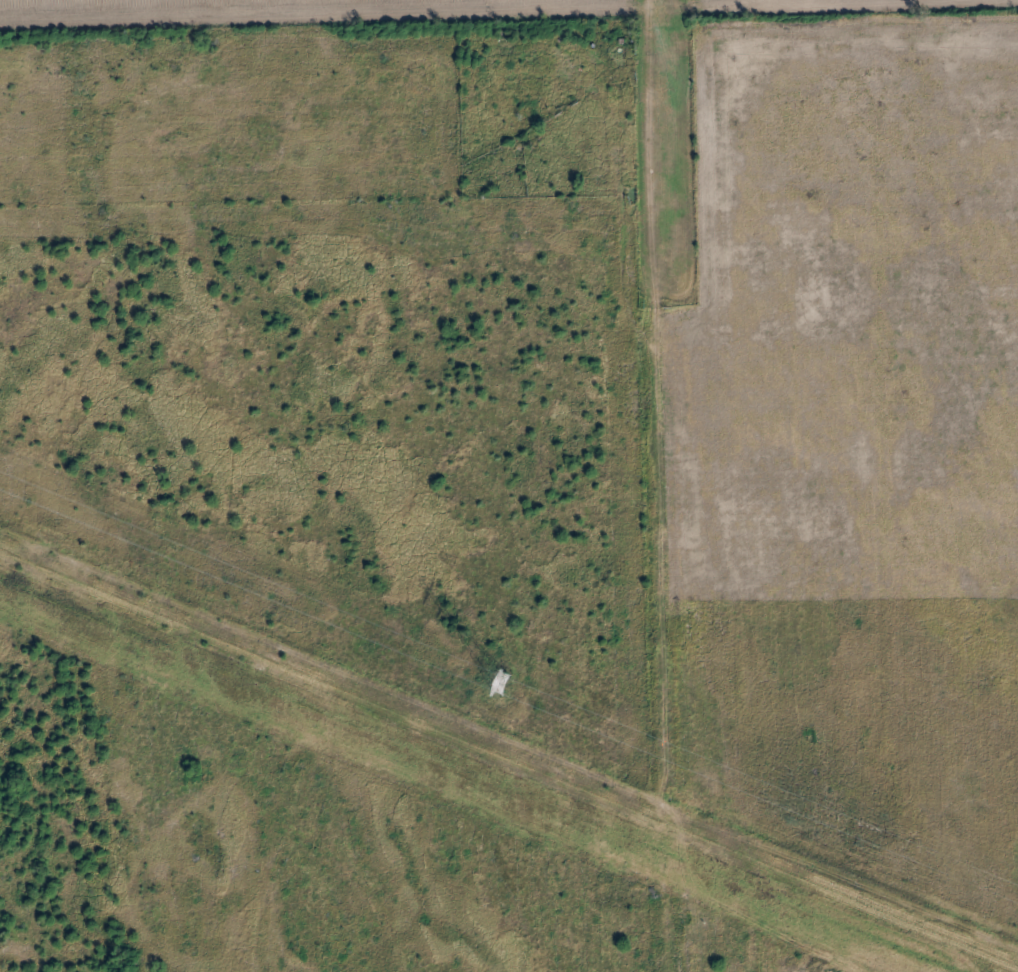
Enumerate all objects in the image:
power tower: (498, 683)

